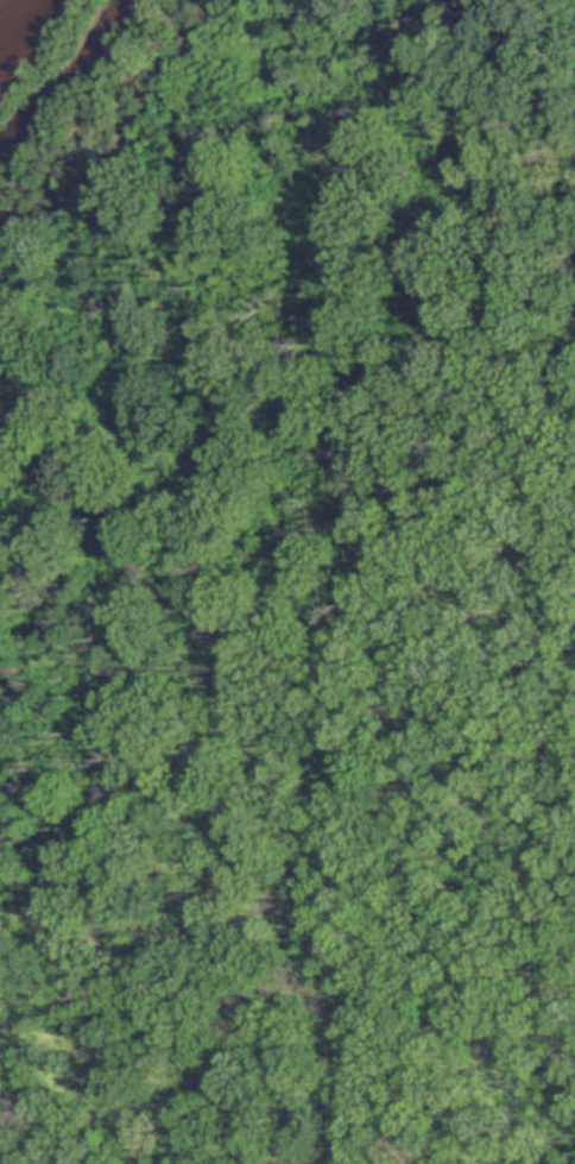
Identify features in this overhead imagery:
river: (7, 13)
road: (168, 175)

